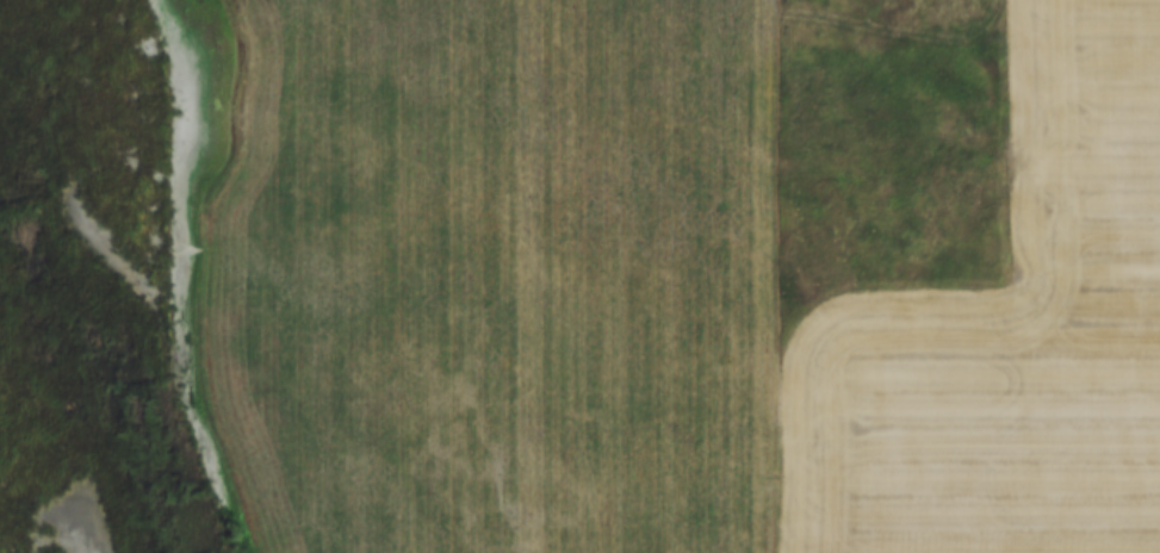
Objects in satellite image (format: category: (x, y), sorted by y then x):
road: (1041, 180)

